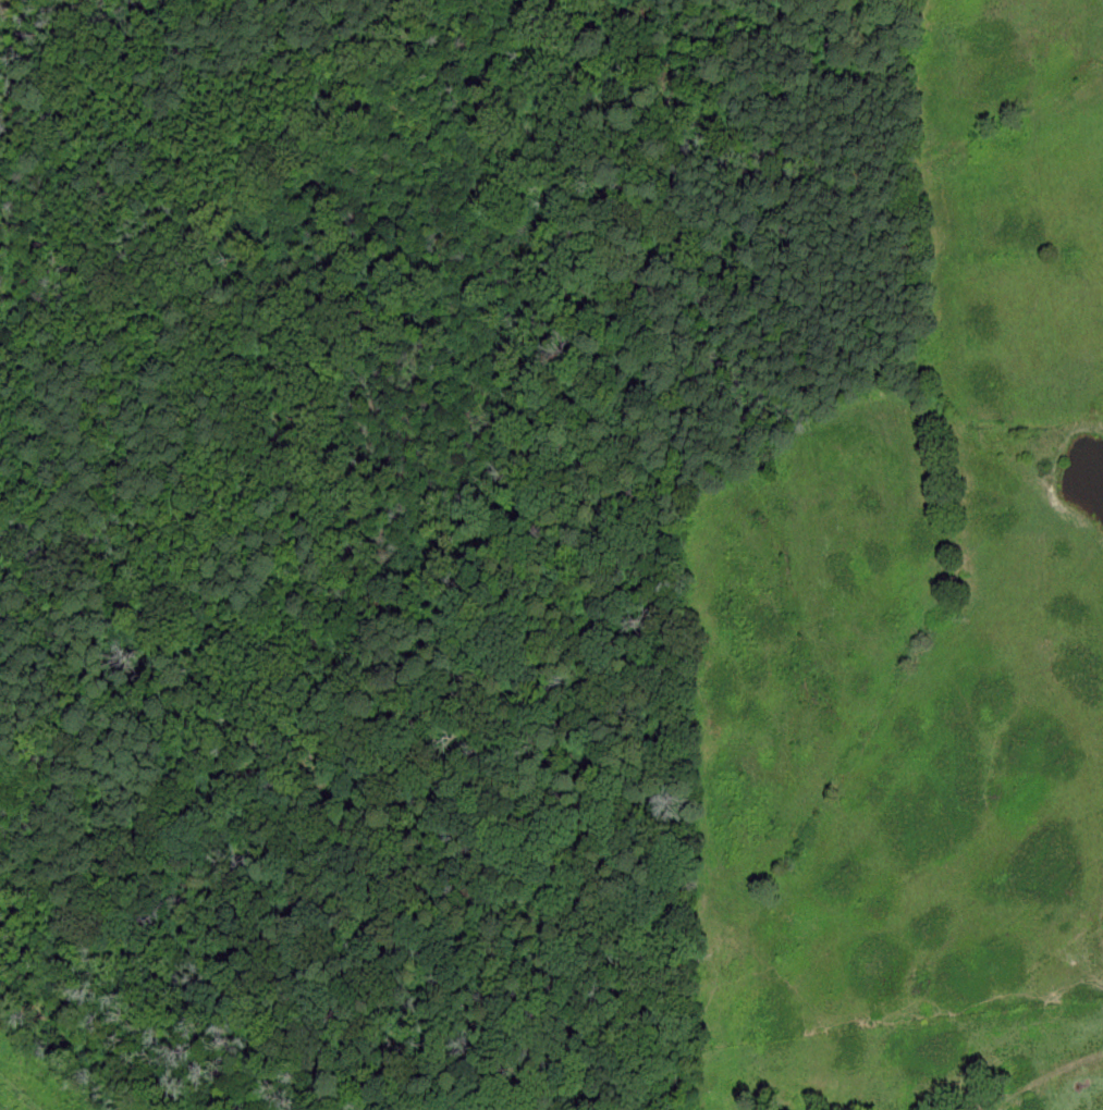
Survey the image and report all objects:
road: (584, 495)

